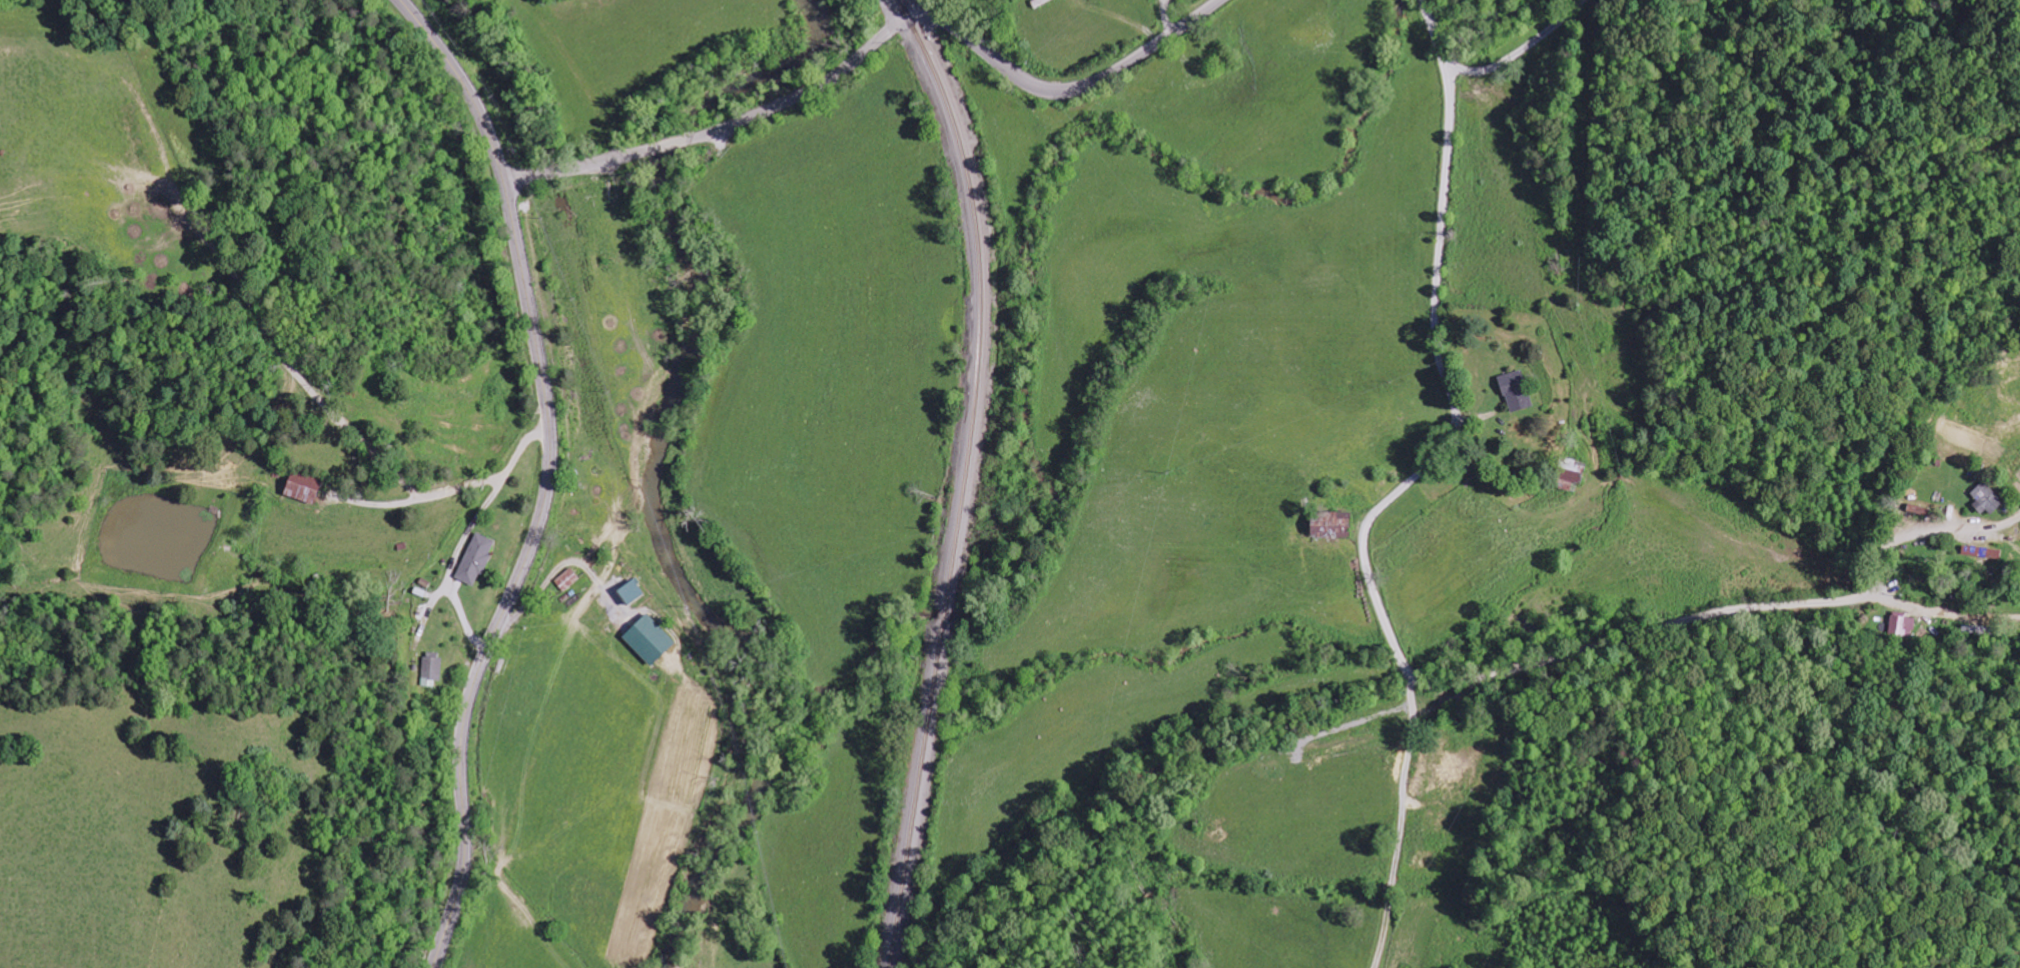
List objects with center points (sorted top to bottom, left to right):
road: (895, 26)
road: (1543, 33)
road: (833, 56)
road: (527, 176)
building: (1514, 391)
road: (547, 476)
building: (1570, 476)
railway: (962, 478)
road: (1406, 485)
building: (302, 488)
building: (1987, 499)
building: (1329, 525)
road: (1883, 548)
building: (474, 559)
building: (566, 580)
building: (629, 592)
road: (1943, 612)
building: (1901, 624)
road: (1638, 633)
building: (648, 639)
building: (432, 666)

